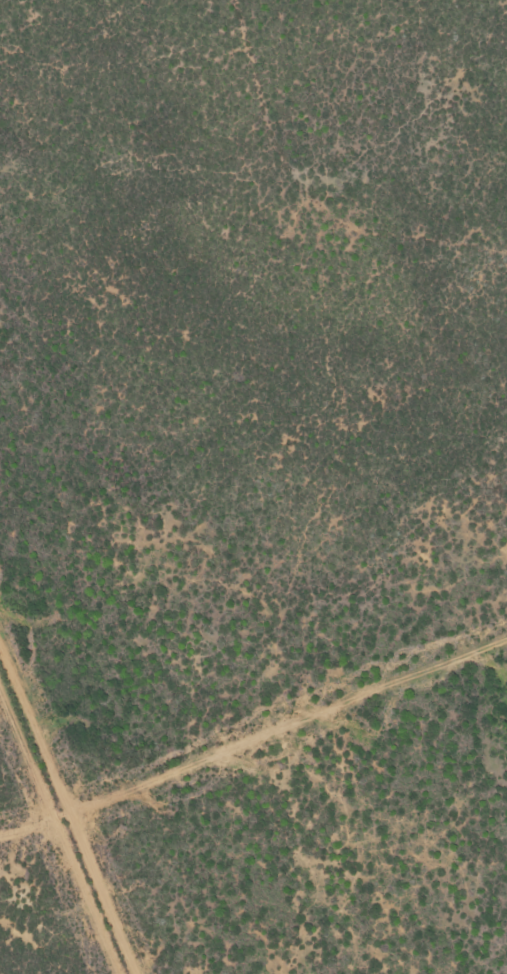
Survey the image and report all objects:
road: (253, 739)

